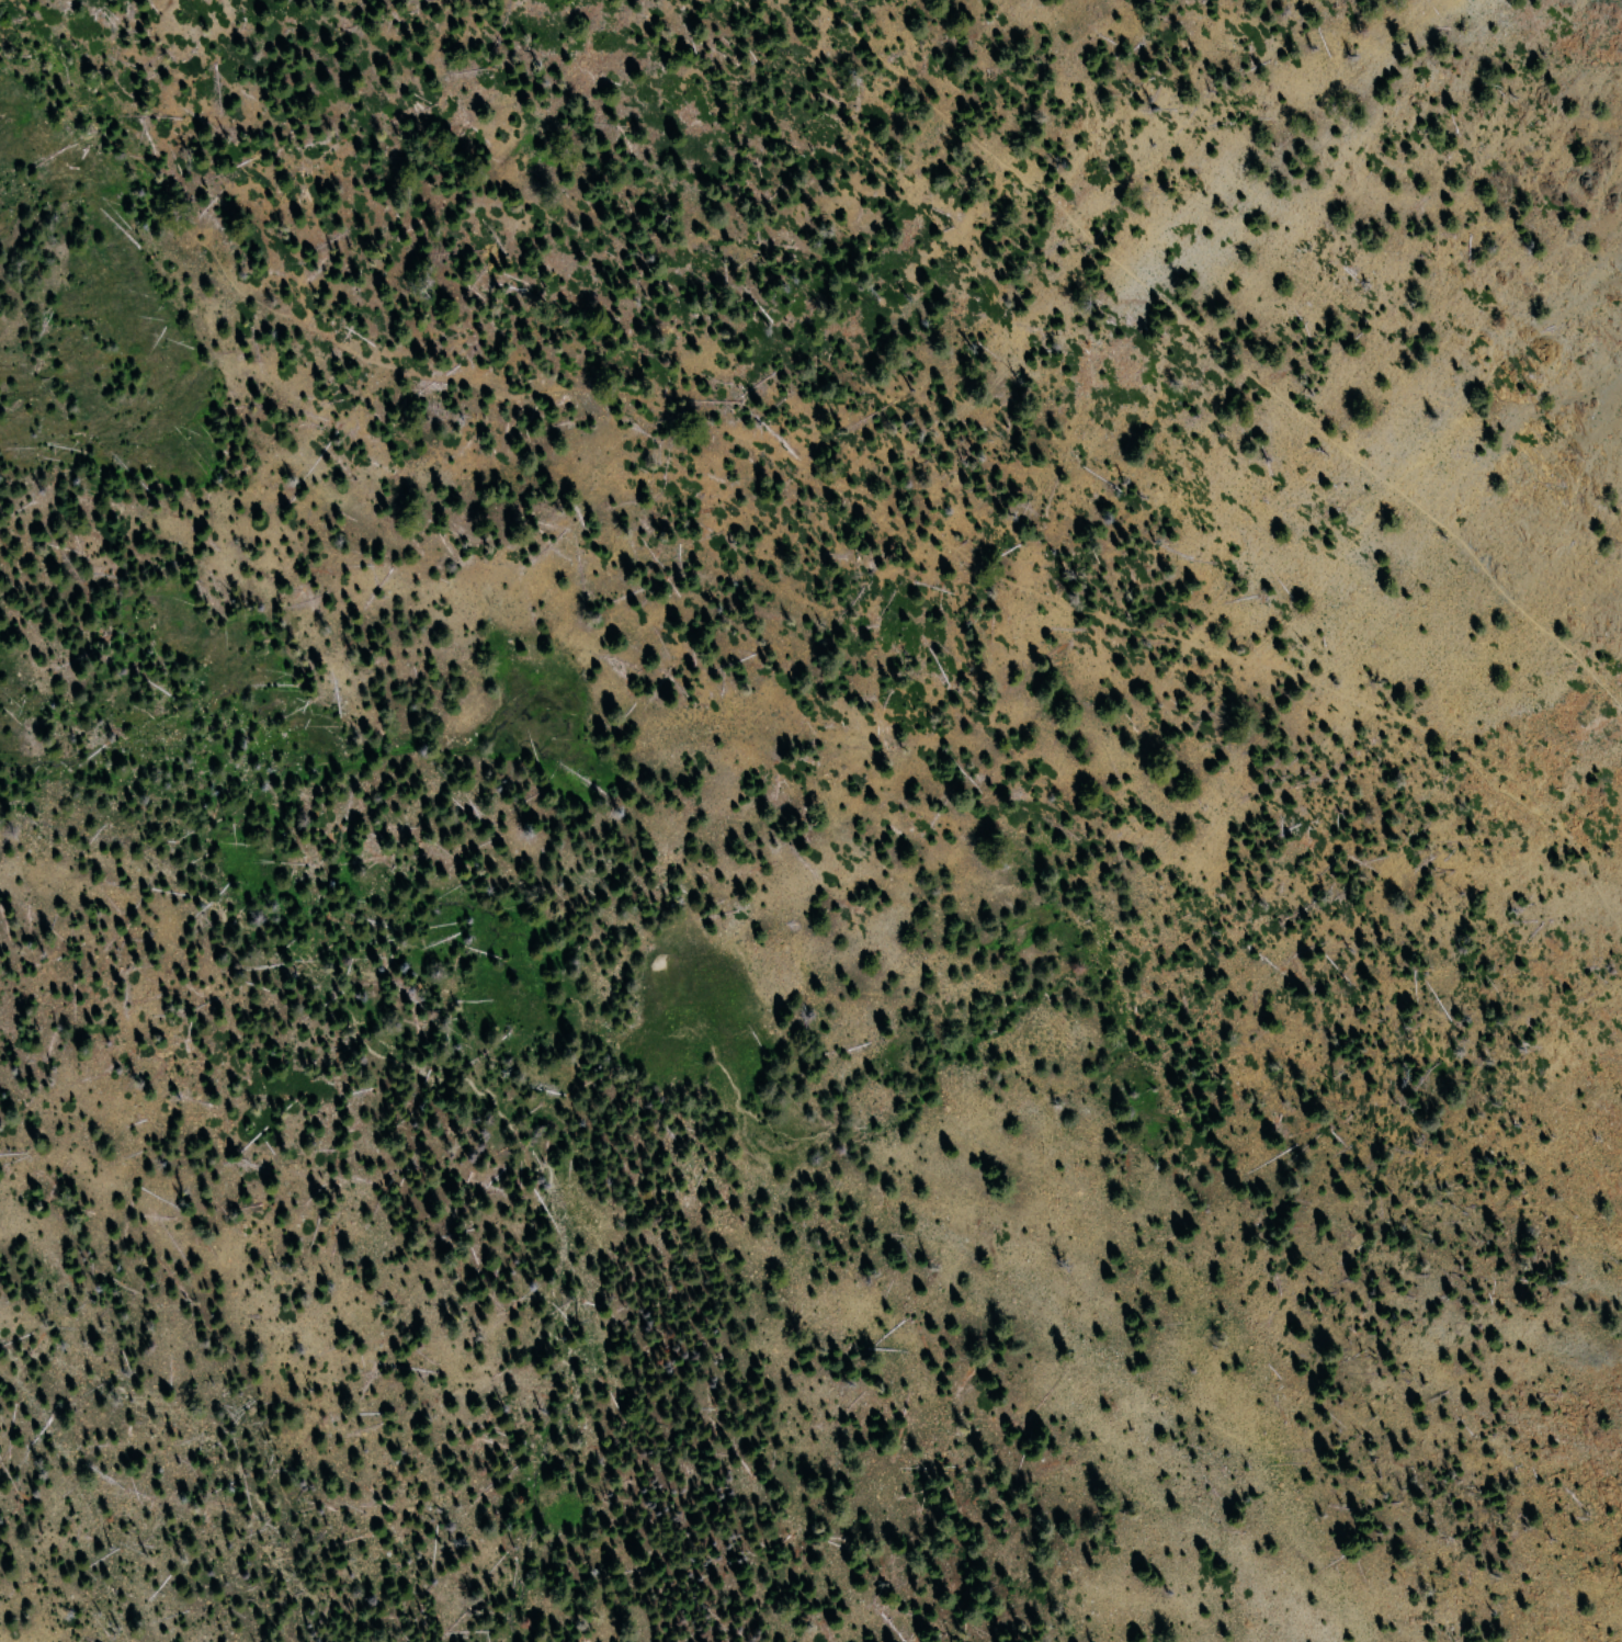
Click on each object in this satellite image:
road: (1205, 344)
road: (814, 451)

